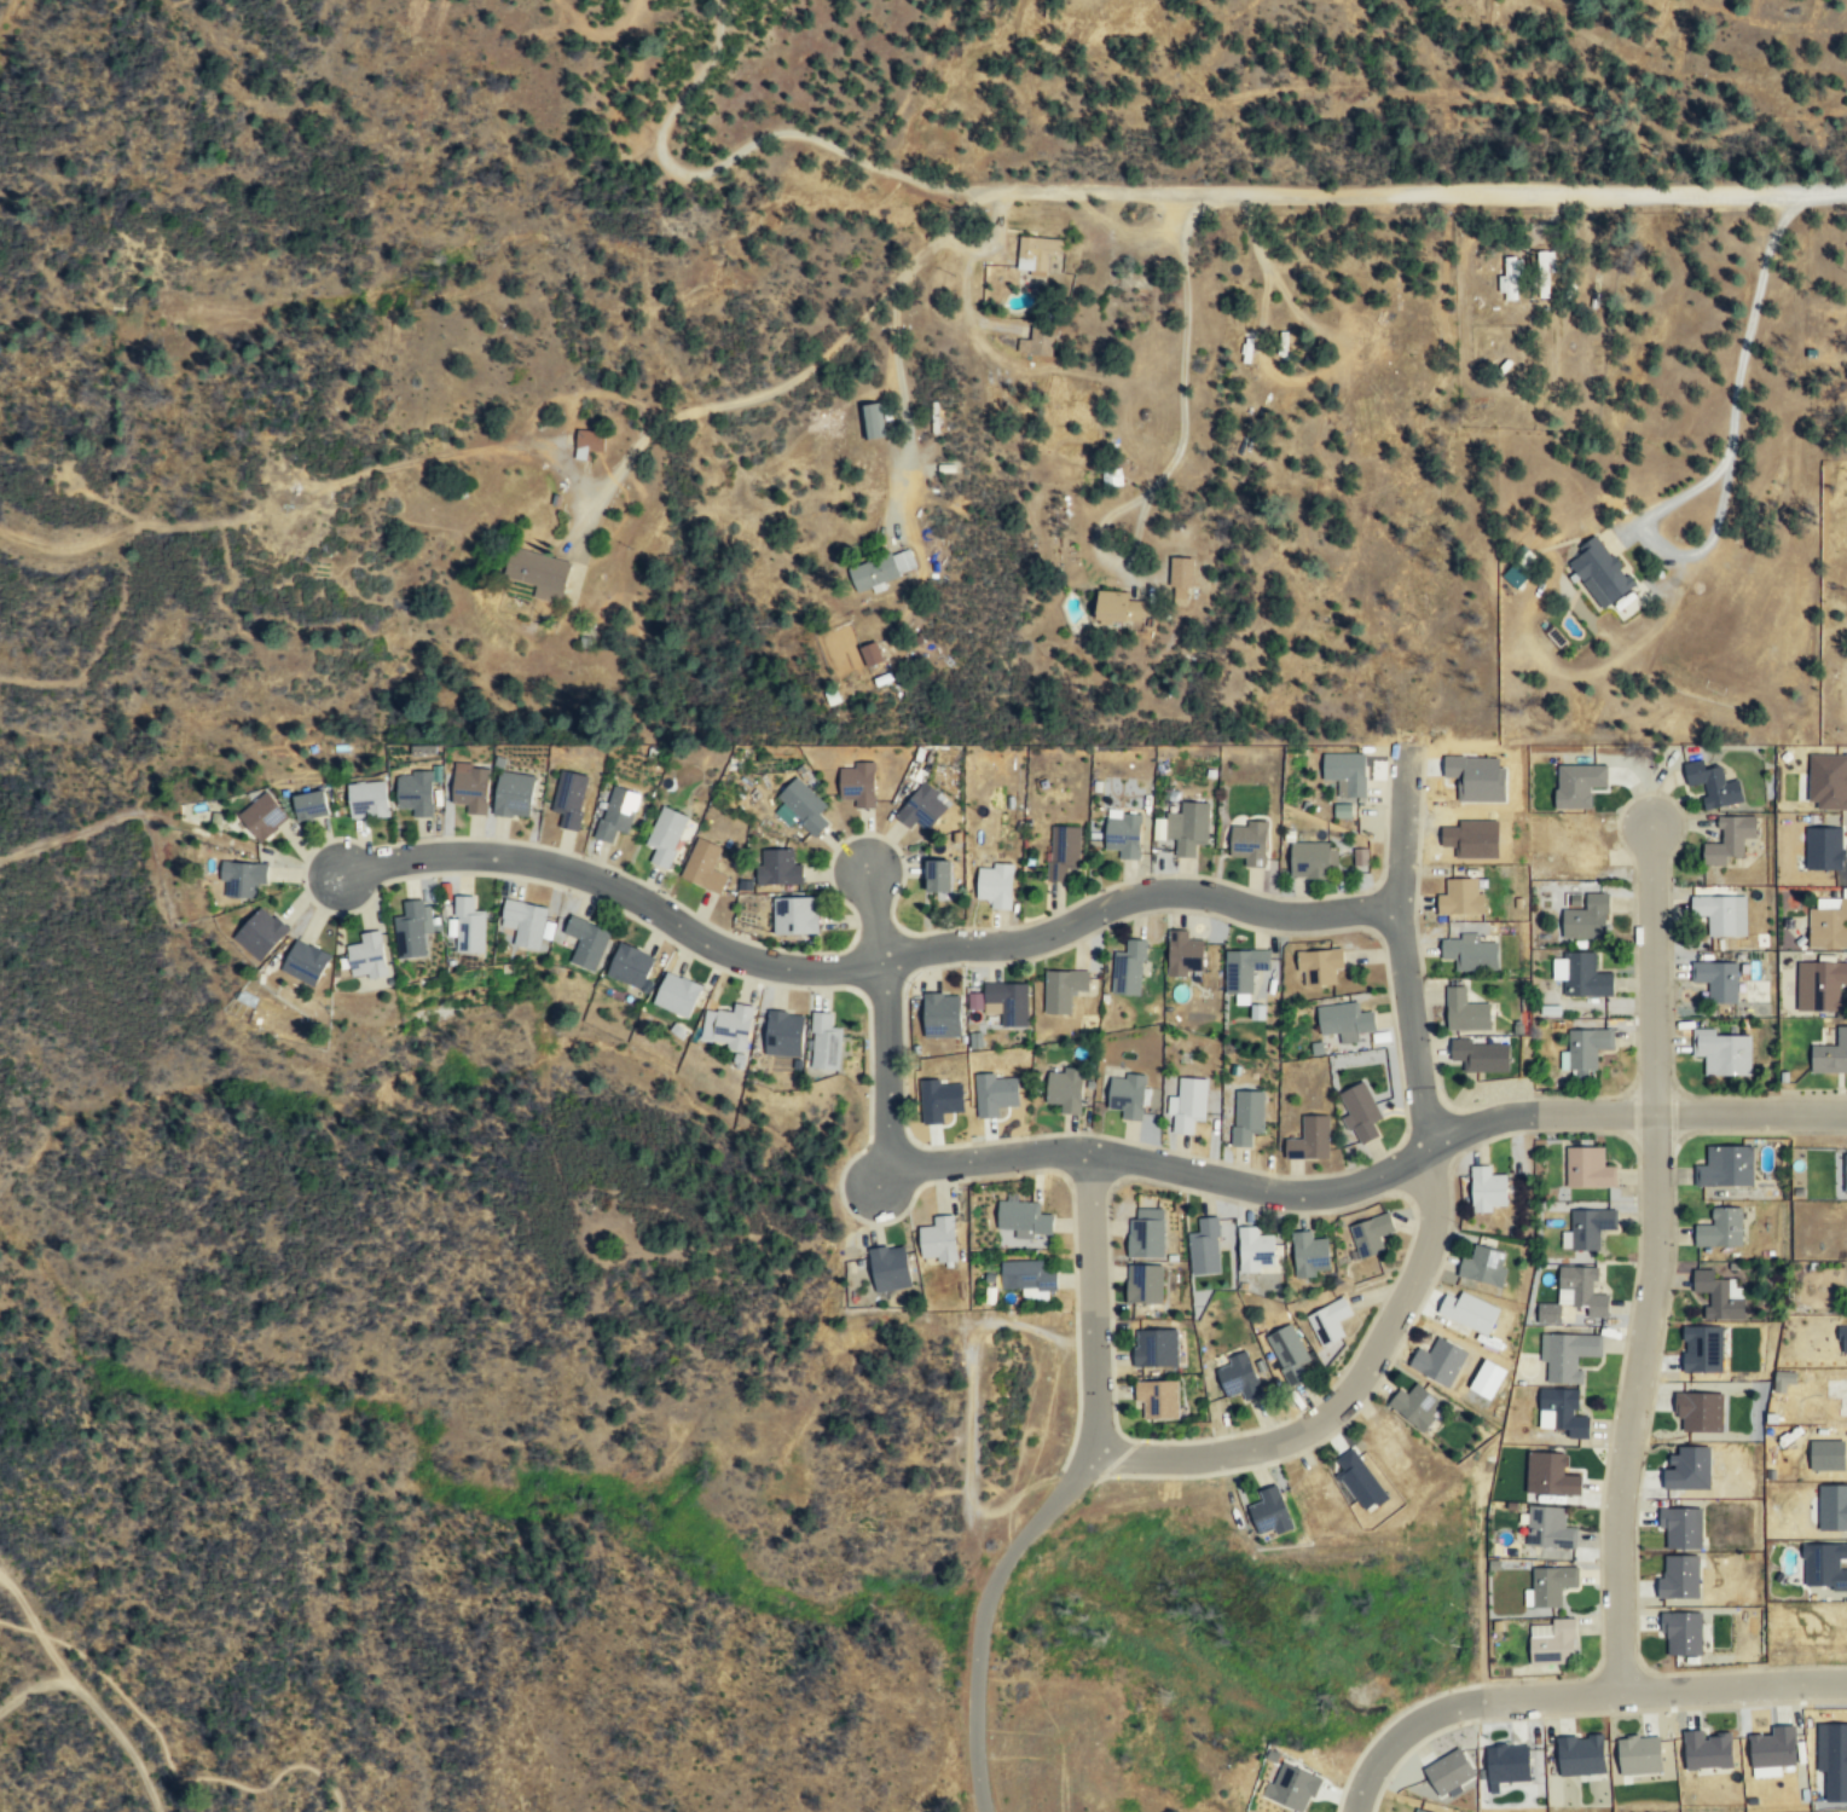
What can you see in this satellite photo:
road: (754, 151)
road: (1428, 195)
building: (1035, 251)
building: (1544, 272)
building: (1509, 276)
building: (1377, 338)
building: (1036, 340)
road: (804, 377)
building: (872, 418)
building: (589, 440)
building: (880, 567)
building: (538, 571)
building: (1599, 571)
building: (1517, 573)
building: (1181, 577)
building: (1118, 604)
building: (870, 652)
building: (1845, 707)
building: (1345, 772)
building: (1470, 776)
building: (1590, 777)
building: (1829, 781)
building: (857, 783)
building: (1712, 783)
building: (469, 787)
building: (413, 793)
building: (515, 794)
building: (568, 798)
building: (365, 800)
building: (309, 804)
building: (803, 804)
building: (922, 807)
building: (1344, 809)
building: (615, 812)
building: (261, 816)
building: (1187, 827)
building: (1123, 833)
building: (665, 834)
building: (1465, 836)
building: (1727, 840)
building: (1567, 841)
building: (1247, 843)
building: (1061, 850)
building: (1823, 851)
building: (1360, 855)
building: (1309, 859)
building: (704, 866)
building: (777, 867)
building: (938, 874)
building: (241, 879)
building: (994, 882)
building: (1459, 897)
building: (794, 915)
building: (1720, 915)
building: (1586, 919)
building: (523, 921)
building: (468, 925)
building: (1828, 925)
building: (411, 928)
building: (260, 933)
building: (586, 942)
building: (1183, 953)
building: (1469, 954)
building: (365, 955)
building: (305, 962)
road: (861, 965)
building: (630, 966)
building: (1318, 966)
building: (1128, 968)
building: (1241, 968)
building: (1583, 977)
building: (1715, 980)
building: (1825, 985)
building: (1061, 989)
building: (677, 995)
building: (975, 1000)
building: (1006, 1002)
building: (1464, 1012)
building: (940, 1014)
building: (992, 1018)
building: (1342, 1019)
road: (882, 1020)
building: (728, 1026)
building: (782, 1032)
building: (823, 1042)
building: (1585, 1050)
building: (1482, 1052)
building: (1722, 1052)
building: (1831, 1052)
building: (1064, 1089)
building: (996, 1093)
building: (1125, 1095)
building: (940, 1099)
building: (1186, 1105)
building: (1359, 1112)
building: (1245, 1115)
building: (1309, 1136)
building: (1587, 1166)
building: (1724, 1166)
building: (1845, 1173)
road: (1370, 1181)
building: (1488, 1189)
road: (1426, 1215)
building: (1021, 1217)
building: (1587, 1227)
building: (1719, 1228)
building: (1145, 1232)
building: (1370, 1234)
building: (937, 1238)
building: (1204, 1245)
building: (1255, 1250)
building: (1309, 1254)
road: (1654, 1260)
building: (1483, 1266)
building: (888, 1268)
building: (1024, 1275)
building: (1143, 1283)
building: (1582, 1289)
building: (1718, 1295)
building: (1550, 1312)
building: (1328, 1319)
building: (1467, 1319)
building: (1825, 1345)
building: (1153, 1347)
building: (1702, 1348)
building: (1287, 1350)
building: (1567, 1354)
building: (1437, 1362)
building: (1239, 1374)
building: (1836, 1393)
building: (1157, 1399)
building: (1414, 1405)
building: (1701, 1407)
building: (1562, 1412)
building: (1388, 1448)
building: (1830, 1455)
building: (1685, 1465)
building: (1548, 1475)
building: (1365, 1483)
road: (1064, 1492)
building: (1318, 1498)
building: (1270, 1510)
building: (1818, 1513)
building: (1684, 1526)
building: (1548, 1528)
building: (1828, 1570)
building: (1685, 1577)
building: (1550, 1585)
building: (1819, 1623)
building: (1690, 1636)
building: (1553, 1644)
road: (1573, 1694)
road: (166, 1744)
building: (1771, 1749)
building: (1707, 1755)
building: (1837, 1755)
building: (1639, 1760)
building: (1579, 1764)
building: (1506, 1766)
building: (1447, 1772)
building: (1291, 1784)
road: (978, 1804)
building: (1418, 1811)

